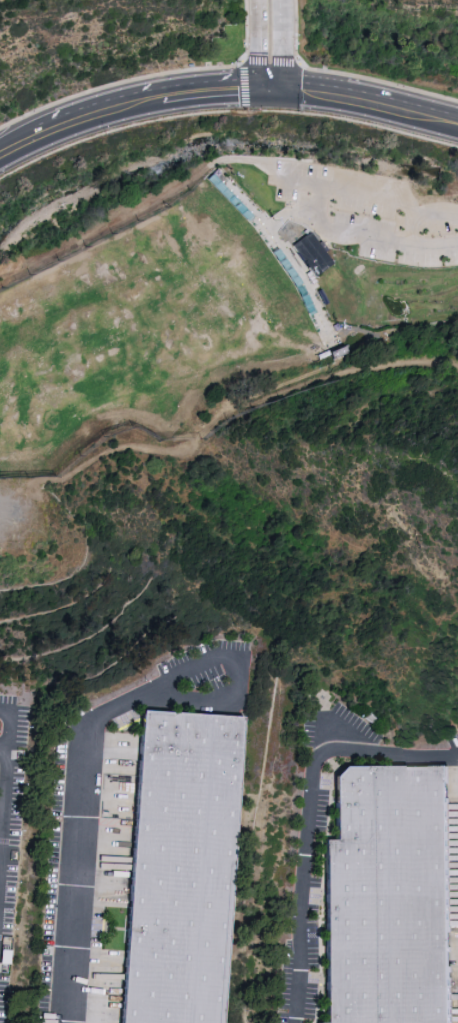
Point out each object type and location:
road: (261, 45)
road: (284, 45)
traffic signals: (260, 91)
road: (272, 91)
traffic signals: (284, 92)
road: (126, 107)
road: (371, 107)
road: (320, 204)
road: (413, 229)
building: (309, 254)
park: (238, 325)
road: (241, 674)
road: (327, 732)
road: (6, 748)
road: (8, 807)
road: (303, 815)
road: (77, 840)
building: (187, 871)
building: (394, 899)

